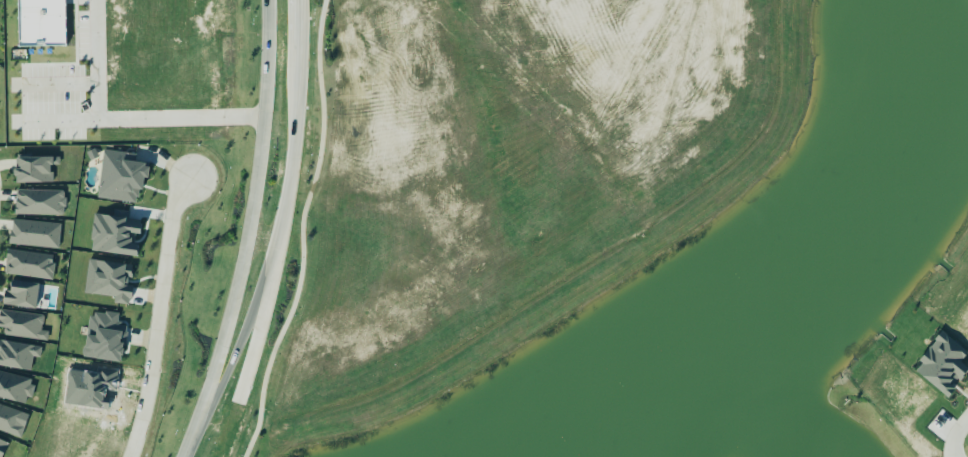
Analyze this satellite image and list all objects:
building: (41, 23)
road: (118, 122)
road: (403, 123)
road: (296, 125)
building: (92, 155)
building: (34, 169)
road: (594, 173)
building: (120, 177)
building: (39, 202)
road: (251, 214)
road: (302, 231)
building: (35, 234)
road: (325, 250)
building: (29, 264)
building: (21, 295)
road: (158, 317)
building: (22, 325)
road: (260, 327)
building: (104, 337)
road: (242, 338)
building: (19, 355)
building: (15, 388)
building: (12, 421)
road: (189, 440)
road: (965, 442)
building: (2, 446)

